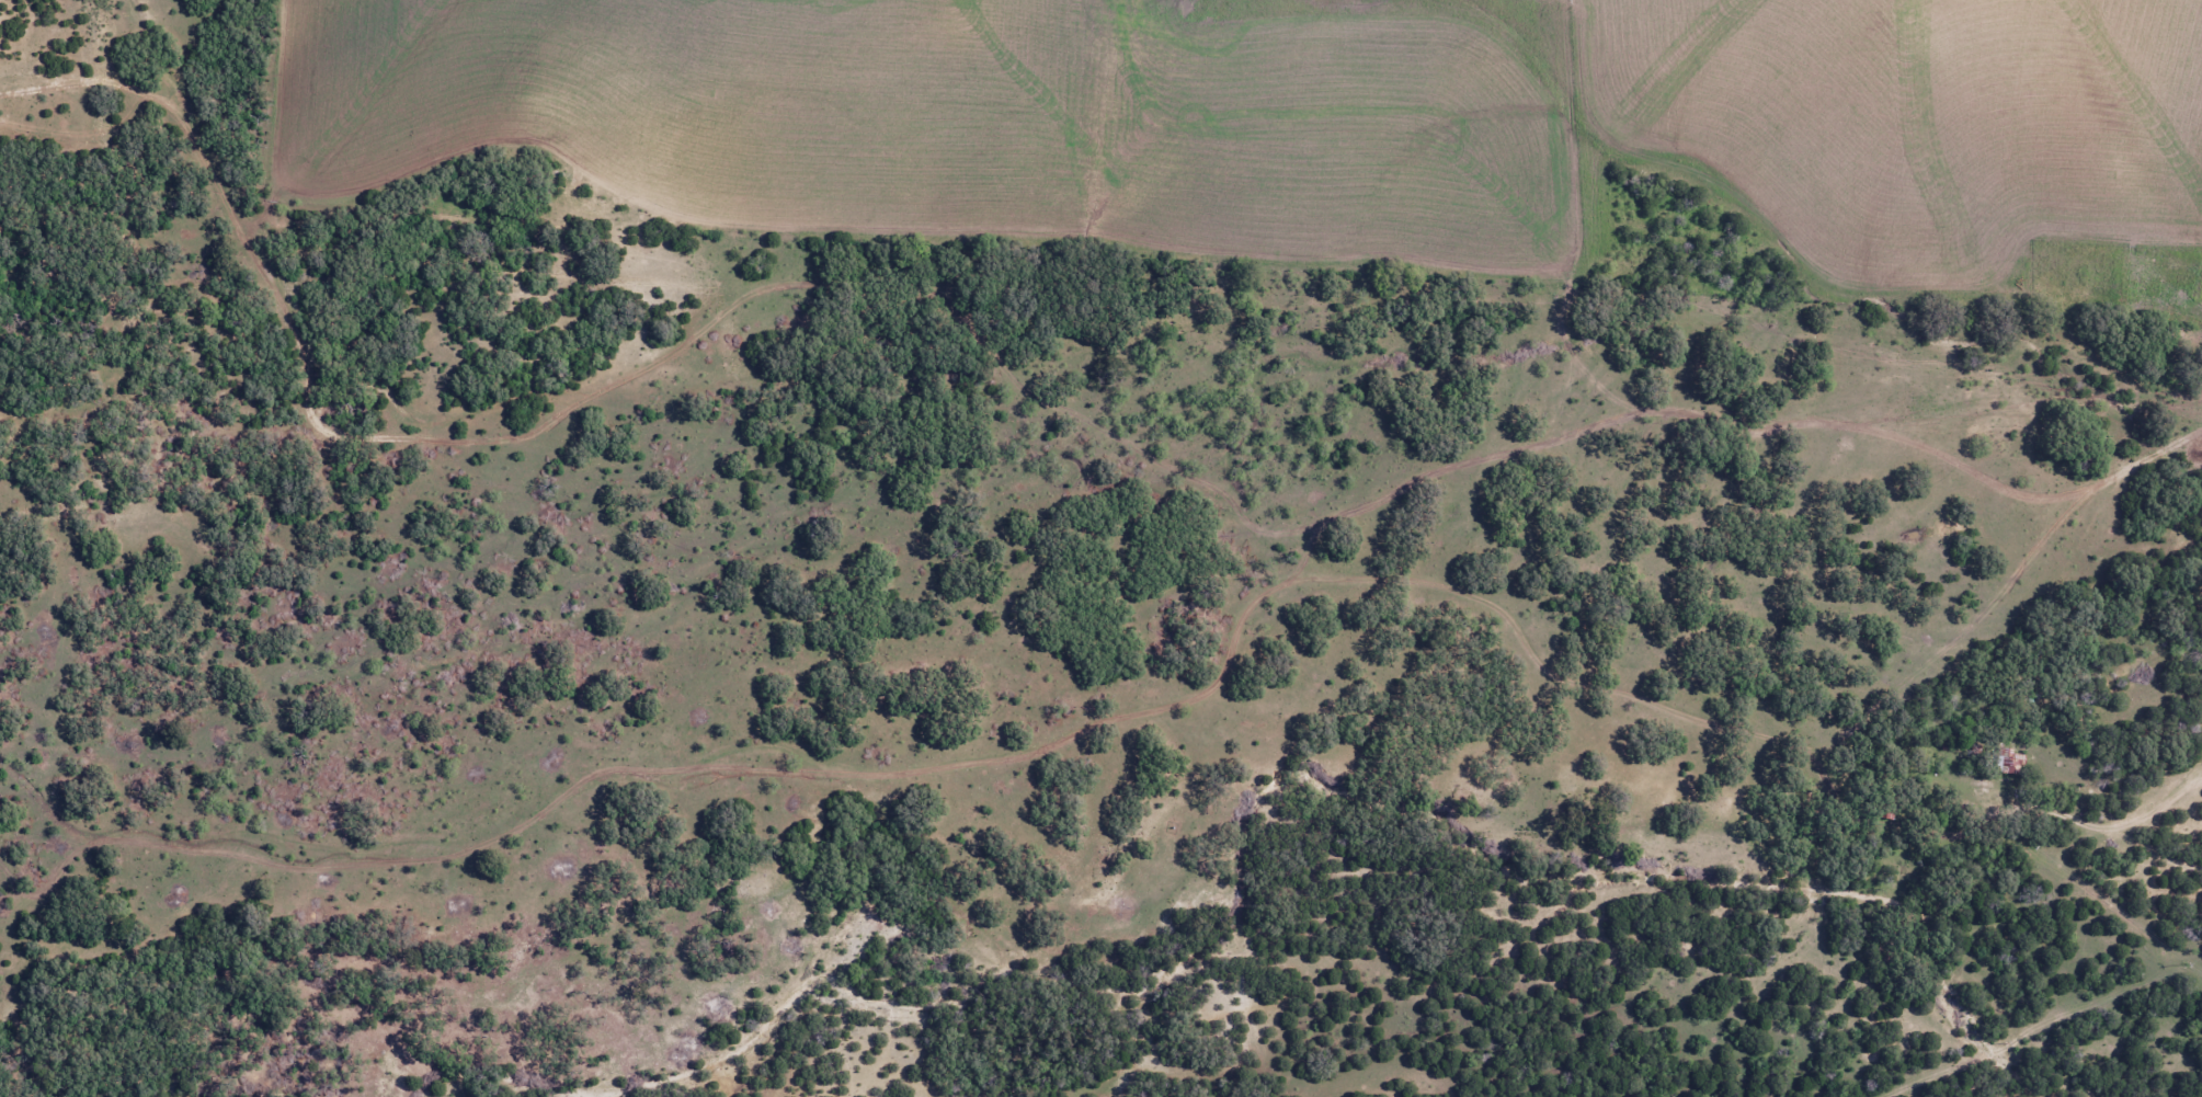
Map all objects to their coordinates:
building: (2010, 763)

